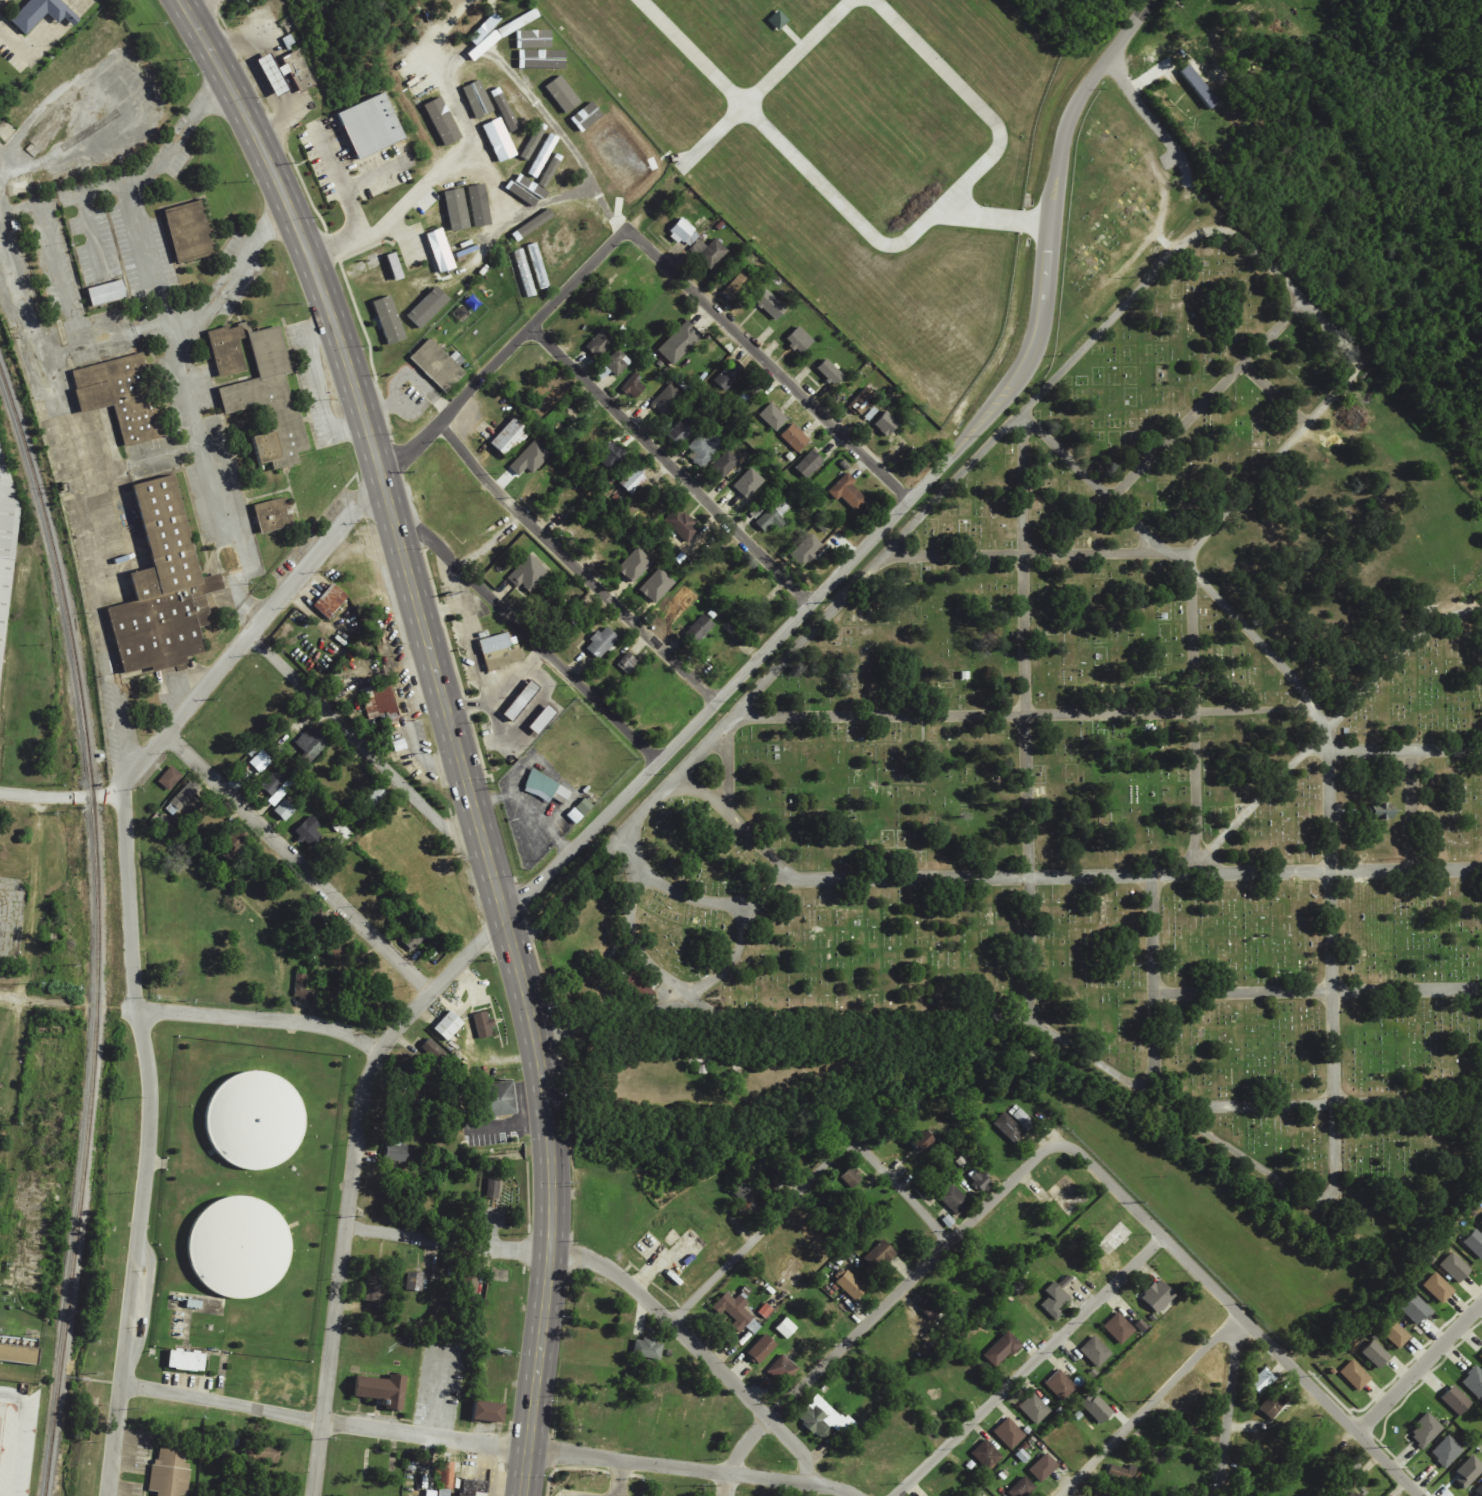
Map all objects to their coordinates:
road: (196, 5)
building: (42, 13)
building: (778, 21)
building: (517, 23)
road: (1133, 26)
building: (534, 40)
road: (693, 53)
building: (548, 61)
building: (287, 73)
road: (770, 82)
road: (520, 85)
building: (1199, 87)
building: (563, 95)
building: (478, 99)
building: (515, 102)
building: (505, 110)
road: (1145, 113)
building: (445, 118)
building: (368, 124)
building: (432, 126)
building: (499, 140)
building: (519, 181)
road: (949, 202)
building: (457, 210)
road: (516, 211)
road: (396, 216)
road: (998, 217)
building: (682, 231)
building: (189, 232)
building: (441, 251)
building: (709, 253)
building: (538, 266)
building: (395, 267)
building: (524, 274)
building: (736, 287)
building: (107, 293)
building: (771, 305)
building: (428, 308)
building: (389, 321)
building: (799, 340)
building: (680, 342)
building: (600, 343)
building: (229, 349)
building: (617, 362)
road: (767, 363)
building: (438, 365)
building: (830, 372)
building: (729, 375)
building: (634, 387)
road: (1210, 394)
road: (1276, 395)
building: (121, 396)
building: (269, 401)
building: (667, 401)
building: (863, 401)
road: (1023, 411)
building: (773, 417)
building: (886, 424)
building: (680, 432)
building: (509, 437)
building: (795, 438)
building: (704, 448)
building: (611, 455)
building: (530, 458)
road: (669, 464)
building: (809, 464)
building: (633, 480)
building: (749, 483)
building: (849, 493)
road: (353, 510)
building: (273, 514)
building: (774, 516)
building: (682, 525)
road: (882, 526)
building: (7, 550)
building: (807, 550)
road: (1030, 551)
building: (635, 565)
road: (573, 566)
building: (528, 574)
building: (657, 586)
building: (164, 588)
building: (330, 601)
building: (699, 629)
road: (530, 637)
building: (602, 643)
building: (500, 651)
building: (627, 663)
building: (380, 700)
building: (521, 700)
road: (1190, 705)
road: (444, 706)
road: (1023, 712)
building: (543, 719)
road: (1328, 723)
road: (358, 743)
building: (311, 744)
road: (1406, 744)
road: (1330, 749)
park: (1139, 755)
road: (727, 768)
building: (170, 779)
building: (275, 782)
building: (545, 787)
road: (45, 797)
building: (182, 799)
building: (285, 811)
building: (579, 811)
building: (1382, 811)
building: (309, 832)
building: (234, 845)
road: (298, 862)
road: (1057, 875)
road: (664, 884)
road: (1029, 886)
road: (760, 887)
railway: (96, 927)
building: (418, 935)
building: (335, 946)
road: (667, 982)
road: (1153, 984)
building: (301, 988)
road: (1317, 990)
road: (33, 999)
road: (258, 1018)
building: (484, 1025)
building: (448, 1026)
building: (433, 1050)
building: (501, 1098)
road: (1326, 1104)
building: (253, 1118)
water tower: (253, 1118)
building: (1024, 1120)
building: (1009, 1127)
building: (923, 1140)
road: (148, 1142)
building: (395, 1150)
building: (852, 1177)
road: (350, 1181)
building: (983, 1181)
building: (492, 1188)
road: (901, 1191)
building: (748, 1197)
building: (954, 1199)
building: (1481, 1223)
road: (759, 1230)
building: (1475, 1243)
building: (237, 1245)
water tower: (237, 1245)
building: (881, 1255)
building: (1455, 1267)
road: (621, 1277)
building: (415, 1282)
building: (849, 1284)
building: (378, 1287)
building: (1438, 1288)
building: (1159, 1296)
building: (1056, 1299)
road: (887, 1302)
building: (931, 1306)
building: (1416, 1310)
building: (737, 1313)
road: (1243, 1317)
building: (786, 1328)
building: (1119, 1328)
building: (1396, 1334)
building: (648, 1349)
building: (762, 1349)
building: (1002, 1350)
building: (1095, 1352)
building: (19, 1354)
building: (1377, 1354)
building: (1481, 1357)
building: (186, 1361)
road: (1029, 1366)
road: (1419, 1369)
building: (783, 1370)
building: (1355, 1375)
building: (1263, 1381)
building: (1474, 1382)
building: (1061, 1385)
building: (383, 1389)
building: (1456, 1401)
road: (1148, 1404)
road: (1229, 1404)
building: (1274, 1404)
building: (1035, 1409)
building: (1099, 1409)
building: (489, 1411)
building: (824, 1419)
road: (322, 1422)
building: (1426, 1432)
building: (1009, 1433)
building: (1447, 1451)
building: (262, 1452)
building: (987, 1455)
road: (628, 1462)
building: (1043, 1468)
building: (1469, 1472)
building: (170, 1473)
road: (524, 1473)
building: (1122, 1473)
building: (447, 1474)
road: (792, 1480)
road: (727, 1484)
building: (473, 1487)
building: (1022, 1488)
building: (1478, 1491)
building: (265, 1492)
building: (431, 1493)
building: (1101, 1493)
building: (1353, 1494)

